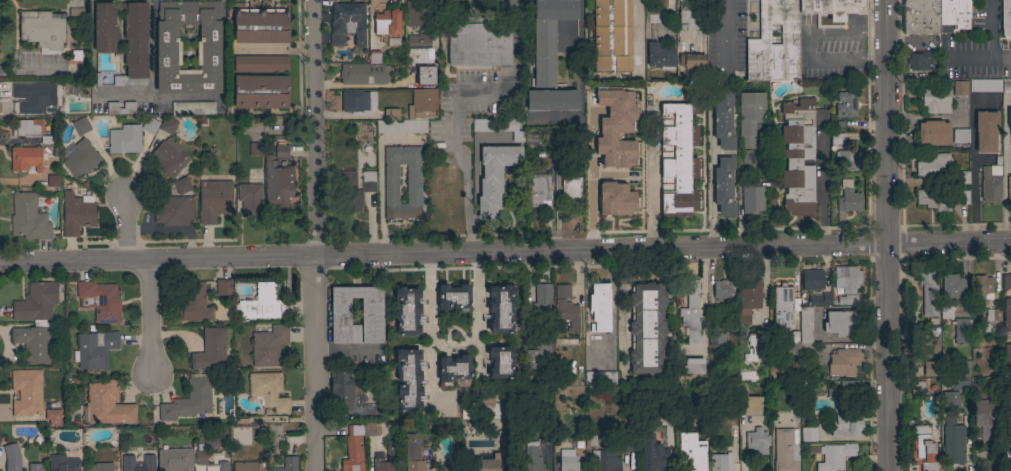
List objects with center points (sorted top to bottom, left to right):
building: (832, 8)
building: (413, 13)
building: (952, 15)
building: (920, 16)
building: (1006, 18)
building: (689, 20)
building: (347, 23)
building: (261, 26)
building: (105, 27)
building: (388, 27)
building: (43, 30)
road: (440, 30)
road: (635, 33)
building: (612, 36)
road: (724, 36)
building: (418, 41)
road: (986, 41)
building: (134, 42)
road: (515, 42)
building: (757, 42)
building: (477, 45)
road: (579, 45)
road: (148, 46)
road: (91, 47)
road: (809, 47)
road: (223, 48)
building: (169, 53)
building: (418, 56)
building: (374, 57)
building: (549, 57)
building: (660, 57)
building: (919, 61)
building: (260, 64)
building: (693, 66)
road: (30, 69)
building: (363, 74)
building: (425, 75)
road: (153, 82)
building: (984, 86)
building: (1006, 86)
building: (959, 88)
building: (261, 92)
road: (124, 93)
building: (35, 97)
building: (935, 99)
building: (358, 102)
building: (423, 104)
building: (846, 104)
building: (121, 108)
building: (193, 108)
building: (630, 109)
building: (596, 111)
building: (391, 114)
building: (558, 117)
building: (749, 117)
building: (724, 119)
building: (1009, 119)
building: (150, 125)
building: (168, 125)
building: (81, 126)
building: (401, 127)
building: (501, 127)
building: (30, 130)
building: (986, 131)
building: (933, 133)
building: (960, 136)
building: (838, 139)
building: (125, 140)
road: (450, 140)
building: (531, 141)
building: (256, 149)
building: (282, 151)
building: (592, 151)
building: (168, 157)
building: (798, 157)
building: (79, 158)
building: (26, 159)
building: (678, 160)
building: (848, 160)
building: (934, 167)
road: (1004, 168)
road: (973, 170)
road: (710, 172)
building: (494, 177)
building: (963, 177)
road: (821, 178)
building: (53, 180)
road: (379, 180)
building: (278, 183)
building: (391, 184)
building: (990, 184)
building: (182, 186)
building: (724, 186)
building: (571, 188)
building: (537, 190)
building: (353, 191)
building: (631, 191)
building: (1009, 191)
road: (649, 195)
building: (595, 197)
building: (962, 197)
building: (848, 198)
building: (612, 199)
building: (934, 199)
building: (214, 200)
building: (250, 200)
building: (752, 200)
building: (173, 210)
building: (76, 214)
building: (29, 218)
road: (125, 225)
road: (309, 235)
road: (887, 235)
road: (505, 252)
building: (846, 279)
building: (812, 280)
building: (1006, 281)
building: (224, 287)
building: (953, 288)
building: (982, 288)
building: (723, 289)
building: (562, 291)
building: (929, 293)
building: (543, 294)
building: (454, 297)
road: (702, 299)
building: (748, 299)
building: (817, 300)
building: (100, 301)
building: (36, 302)
building: (194, 303)
building: (262, 304)
building: (782, 305)
building: (599, 308)
road: (477, 309)
building: (500, 309)
building: (691, 310)
building: (371, 311)
building: (407, 311)
building: (946, 311)
building: (567, 314)
building: (993, 315)
building: (1007, 315)
road: (149, 318)
building: (842, 318)
road: (430, 325)
building: (647, 329)
building: (805, 330)
building: (961, 330)
building: (791, 338)
building: (34, 341)
building: (715, 341)
road: (454, 343)
building: (924, 345)
building: (269, 346)
building: (756, 347)
building: (95, 350)
building: (210, 351)
building: (536, 351)
building: (1007, 355)
building: (500, 362)
building: (844, 362)
building: (693, 366)
building: (454, 368)
building: (927, 369)
building: (747, 376)
building: (600, 379)
building: (408, 380)
building: (960, 385)
building: (917, 387)
building: (847, 389)
building: (268, 391)
building: (340, 391)
building: (27, 393)
building: (950, 400)
building: (189, 401)
building: (666, 403)
building: (107, 404)
building: (749, 405)
building: (482, 408)
building: (986, 416)
building: (52, 418)
building: (846, 425)
building: (808, 434)
building: (546, 439)
building: (757, 441)
building: (953, 442)
building: (357, 445)
building: (629, 445)
road: (742, 446)
building: (924, 449)
building: (415, 450)
building: (785, 450)
building: (691, 452)
building: (653, 454)
building: (570, 456)
building: (835, 456)
building: (12, 457)
building: (200, 458)
building: (175, 460)
building: (604, 460)
building: (386, 461)
building: (484, 462)
building: (720, 462)
building: (62, 463)
building: (138, 463)
building: (535, 463)
building: (287, 464)
building: (245, 466)
building: (34, 467)
building: (99, 467)
building: (223, 469)
building: (447, 469)

